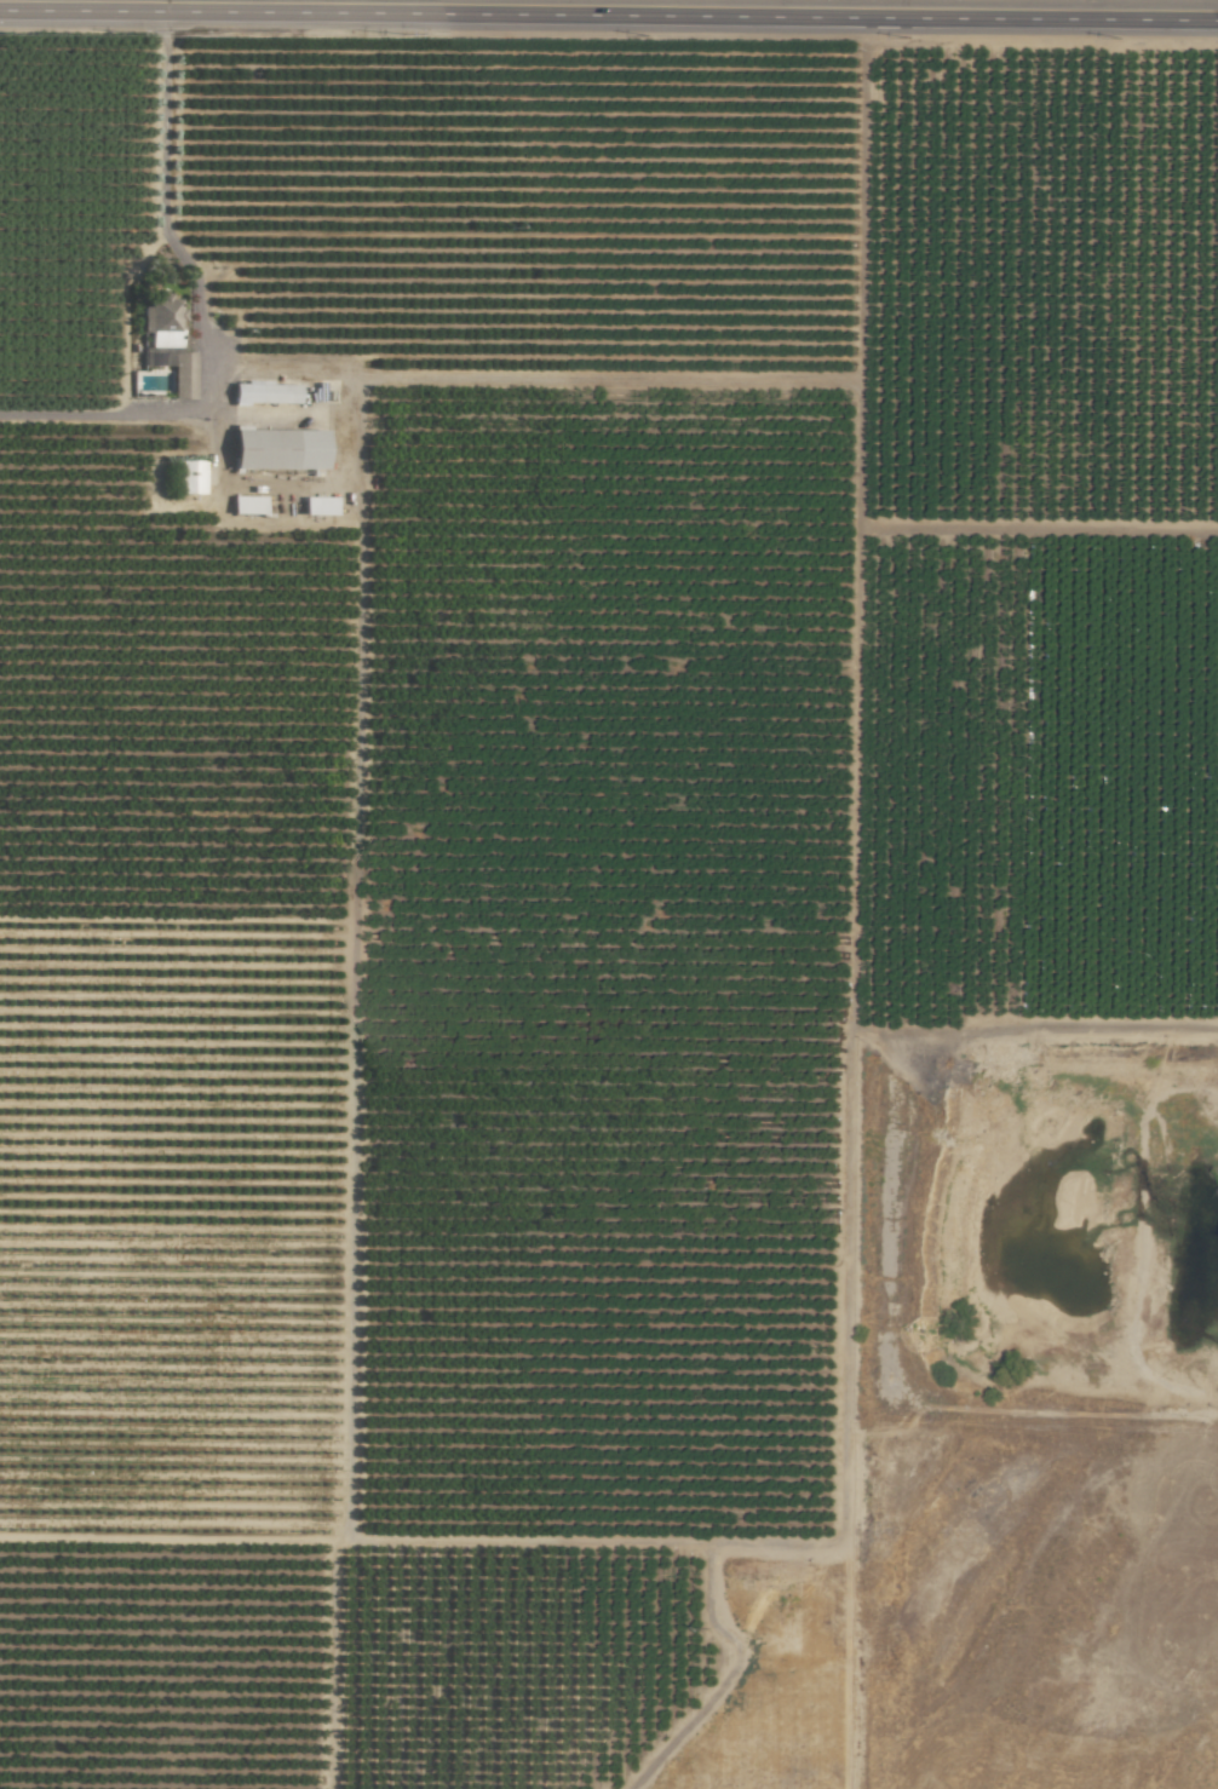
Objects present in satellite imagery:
road: (608, 15)
road: (196, 306)
building: (161, 322)
building: (182, 376)
building: (265, 393)
building: (277, 449)
building: (190, 477)
building: (247, 505)
building: (318, 506)
road: (856, 1221)
road: (864, 1426)

